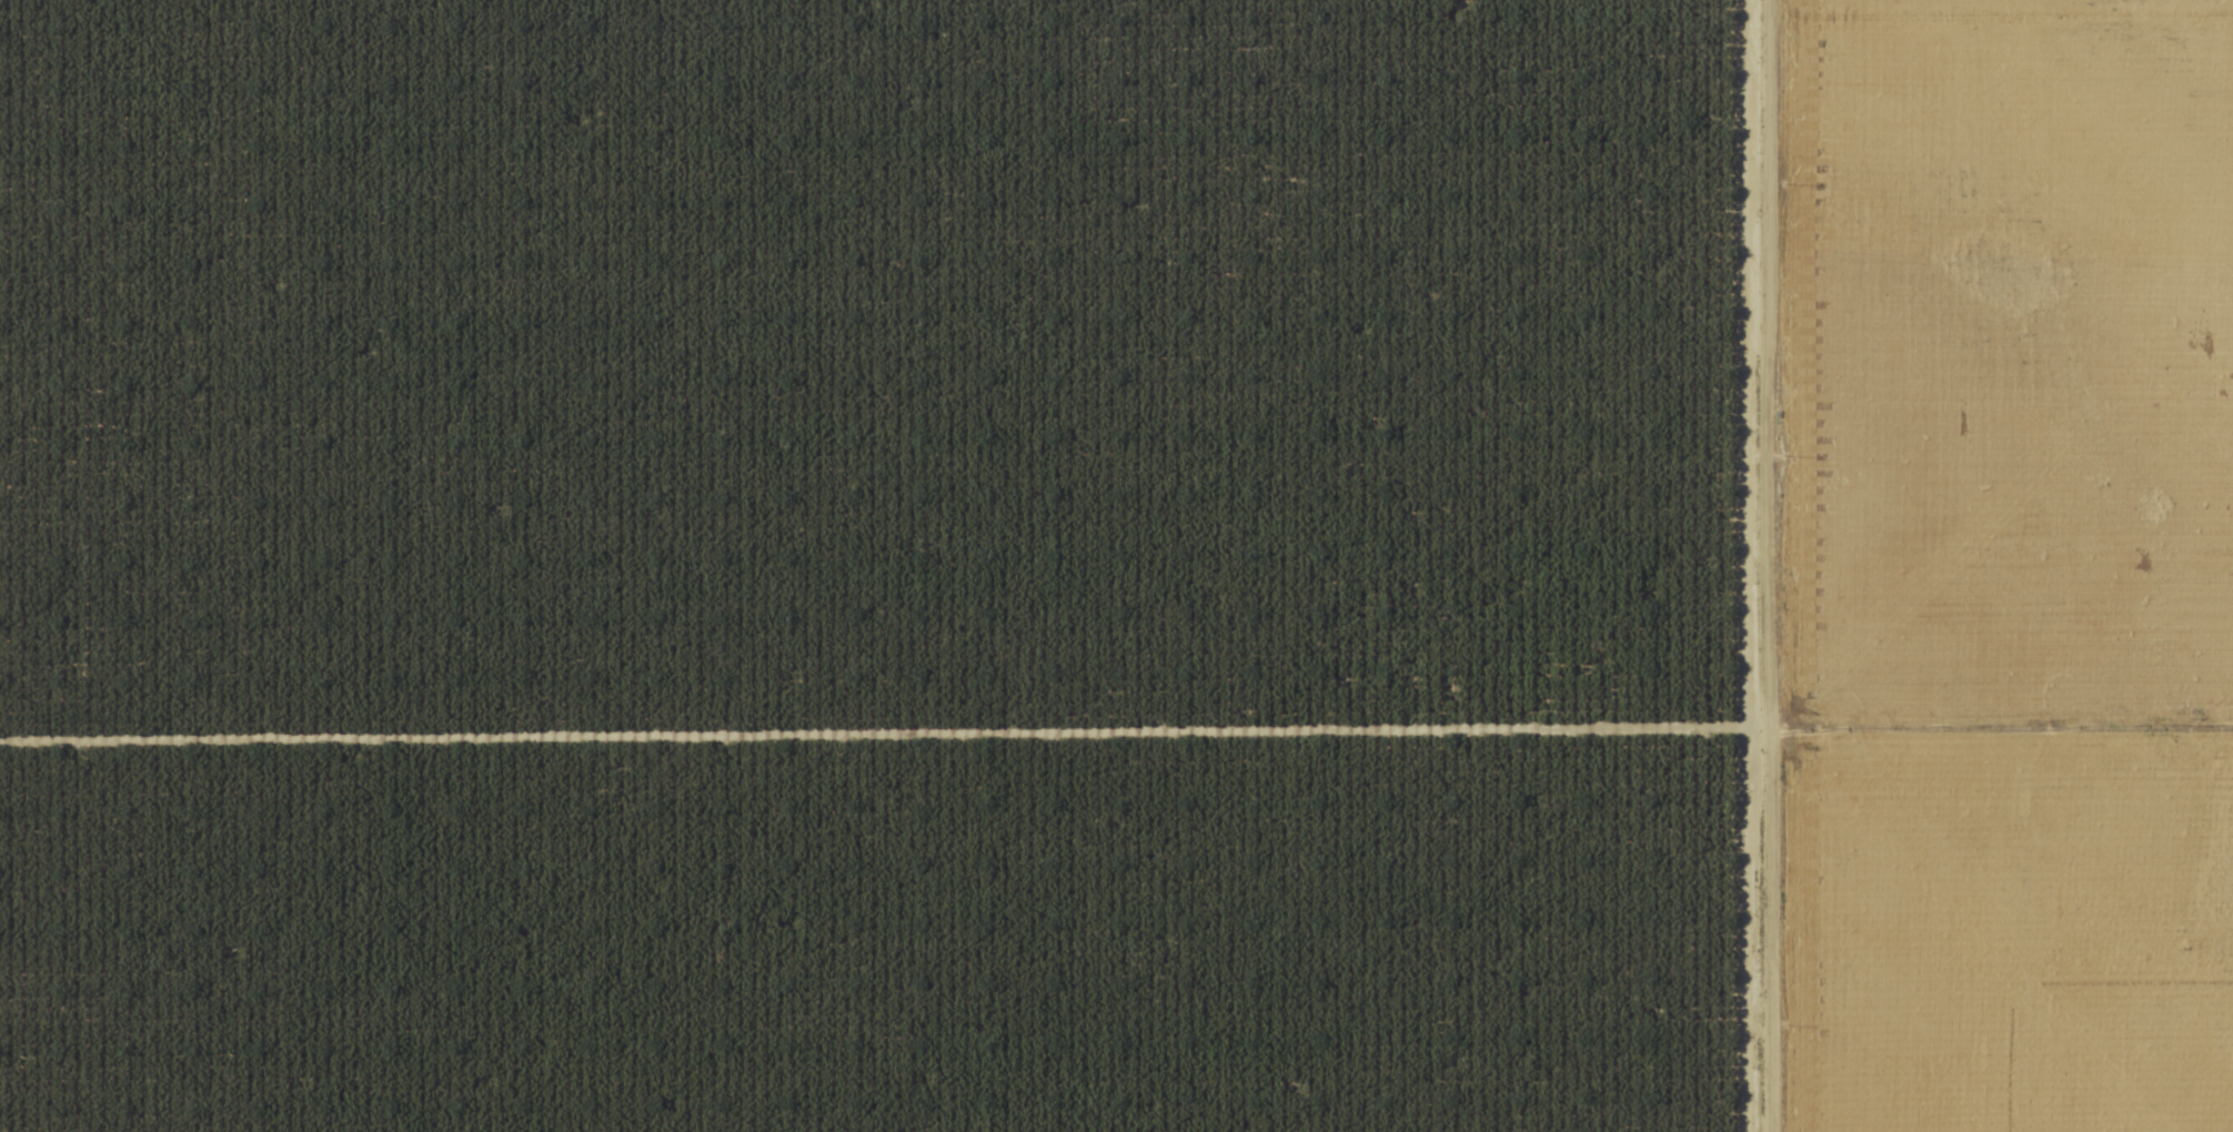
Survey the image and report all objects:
crop: (874, 566)
crop: (1116, 566)
road: (1721, 566)
road: (859, 734)

